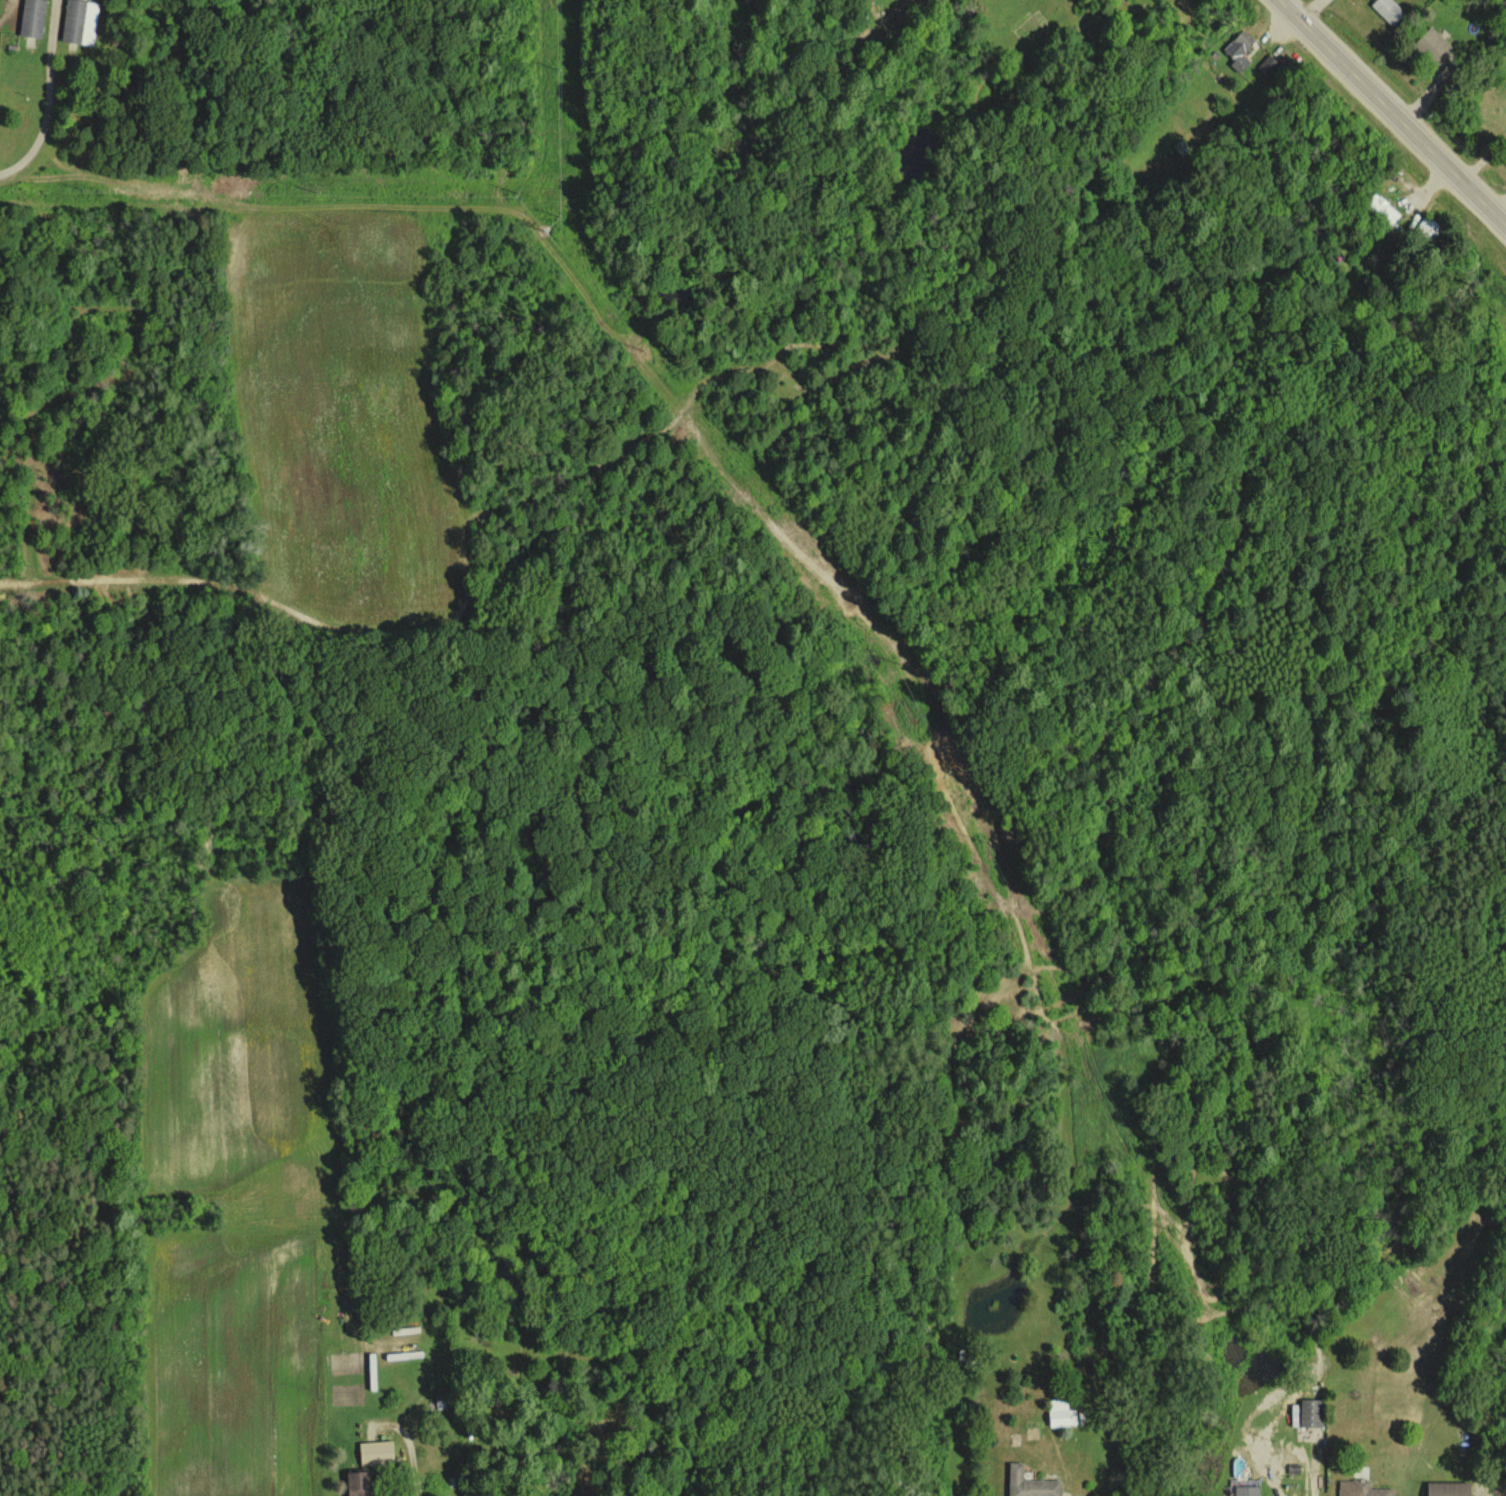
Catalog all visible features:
road: (1304, 5)
building: (1387, 9)
building: (32, 18)
building: (79, 21)
building: (1431, 46)
building: (1238, 49)
building: (1269, 68)
road: (48, 96)
road: (1395, 111)
road: (1484, 156)
road: (1501, 207)
building: (1382, 208)
building: (1309, 1411)
building: (1059, 1414)
building: (1293, 1414)
building: (375, 1452)
road: (392, 1470)
building: (355, 1482)
building: (1029, 1483)
building: (1446, 1488)
building: (1360, 1489)
building: (1245, 1490)

